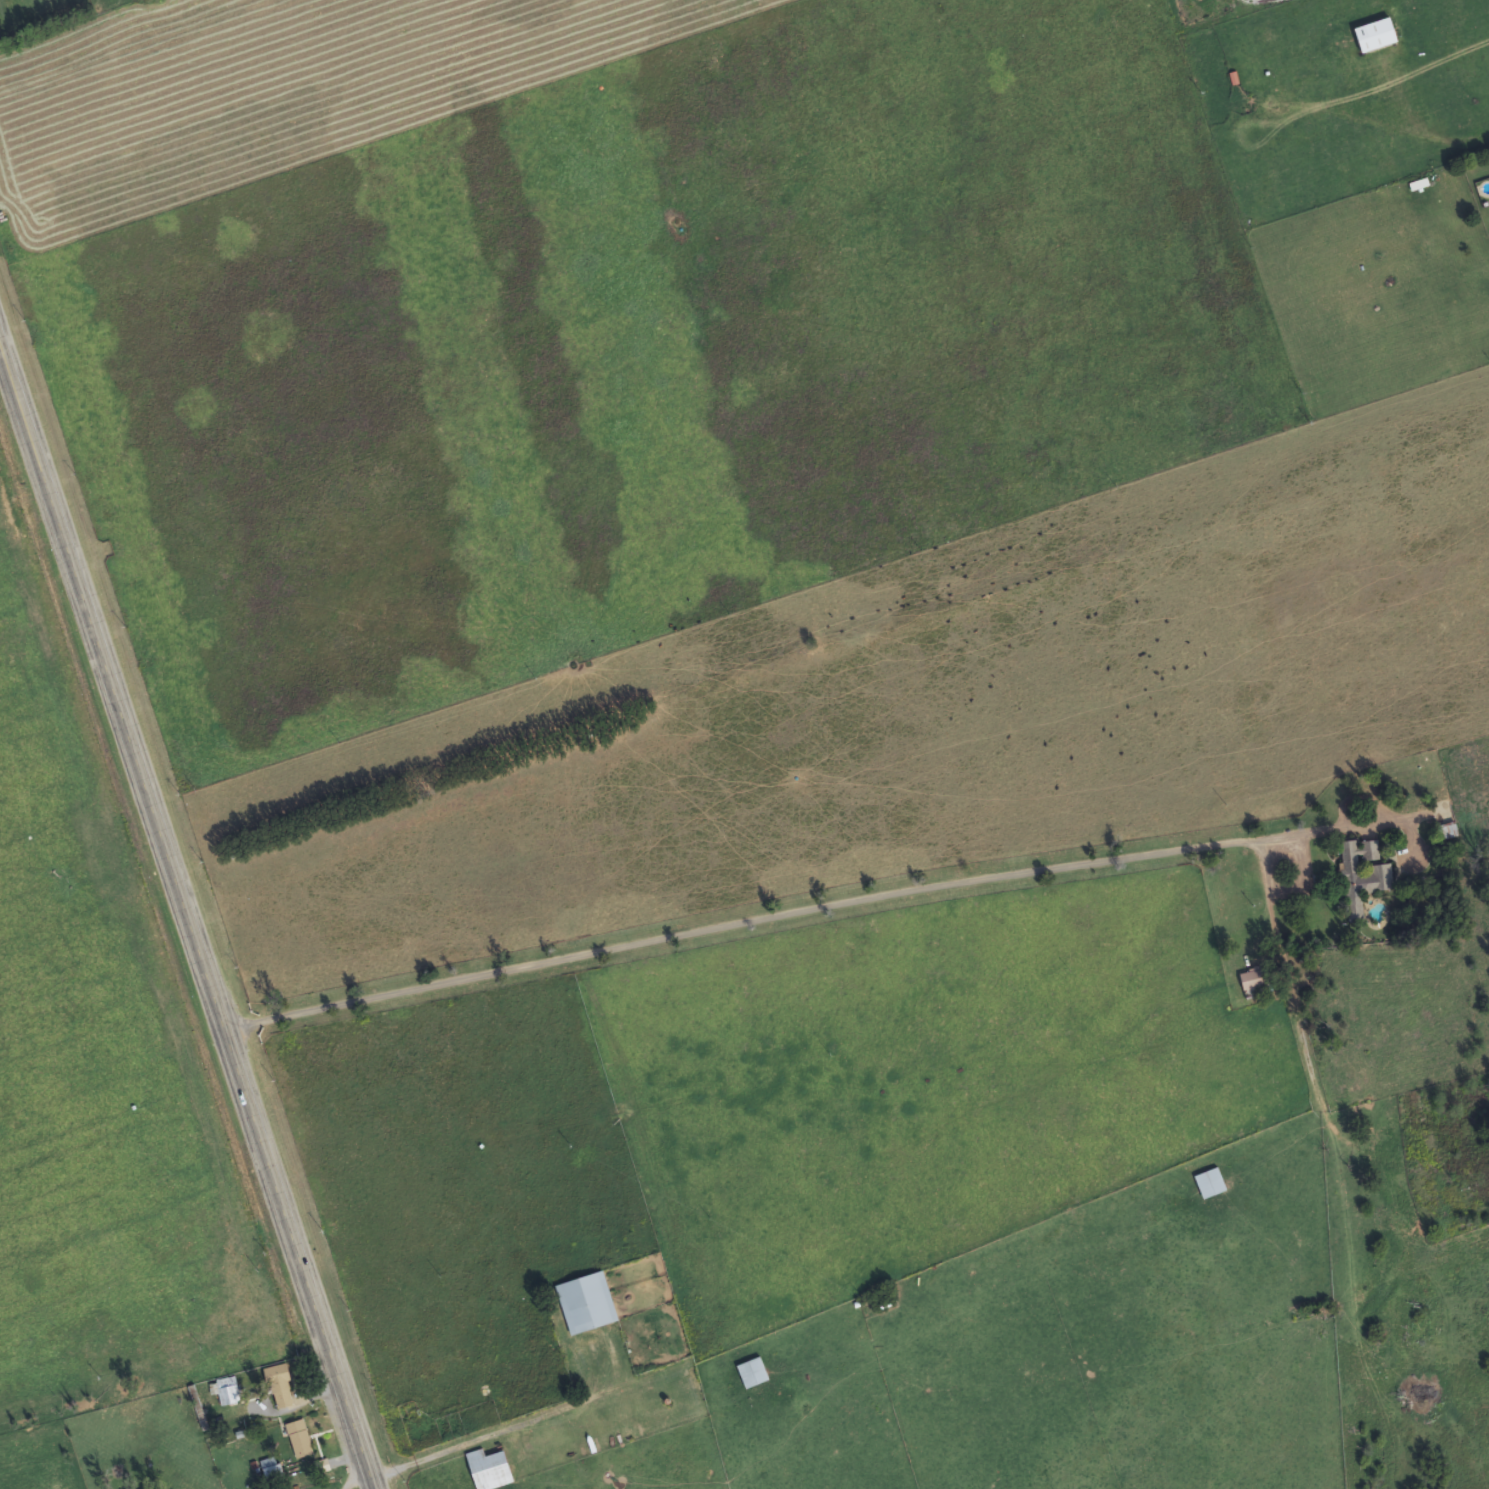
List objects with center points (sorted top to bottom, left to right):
building: (1375, 36)
building: (1447, 831)
building: (1362, 875)
road: (186, 918)
road: (1288, 950)
building: (1255, 981)
building: (1210, 1184)
building: (587, 1303)
building: (752, 1373)
building: (280, 1387)
building: (300, 1439)
building: (271, 1466)
building: (489, 1470)

